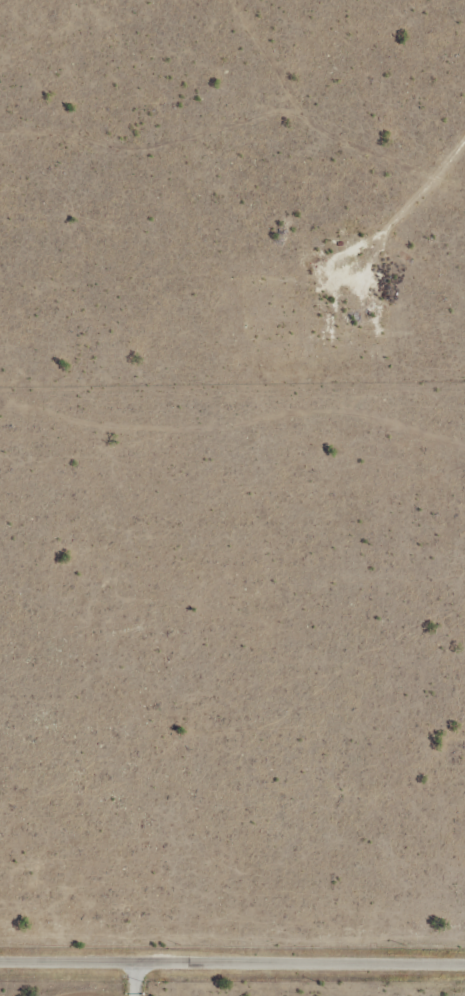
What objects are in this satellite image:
road: (232, 978)

